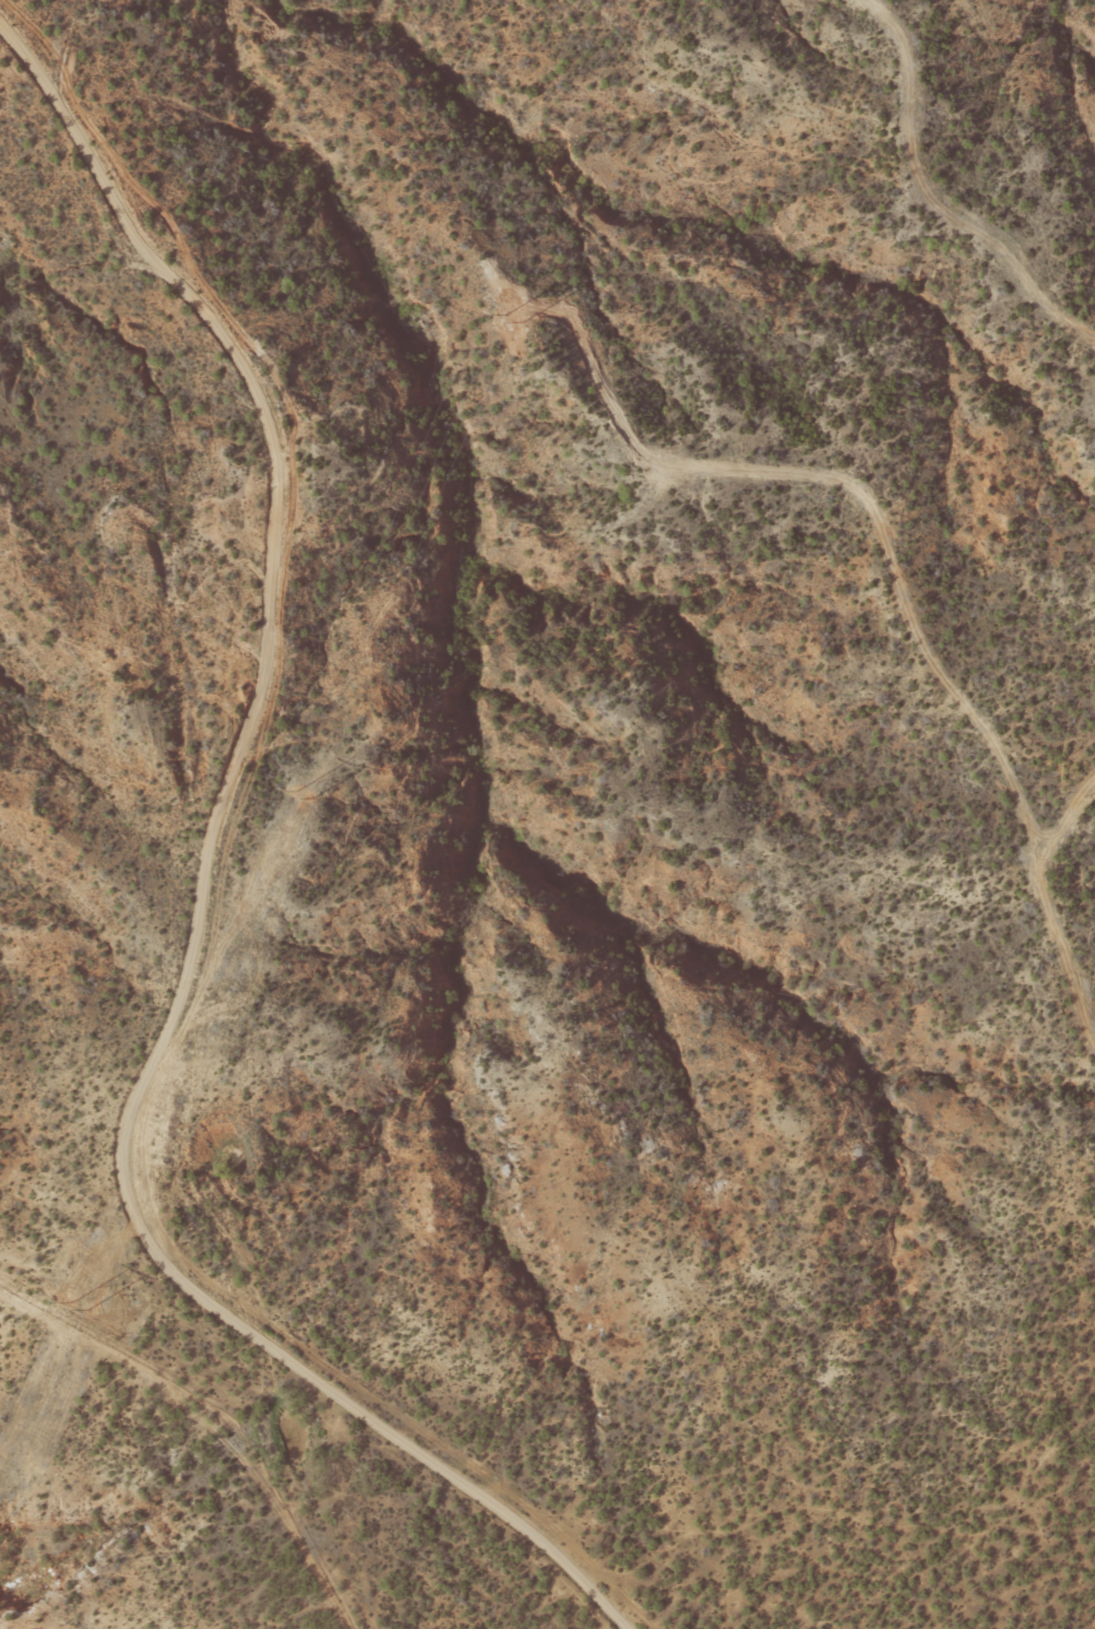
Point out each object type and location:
road: (168, 921)

